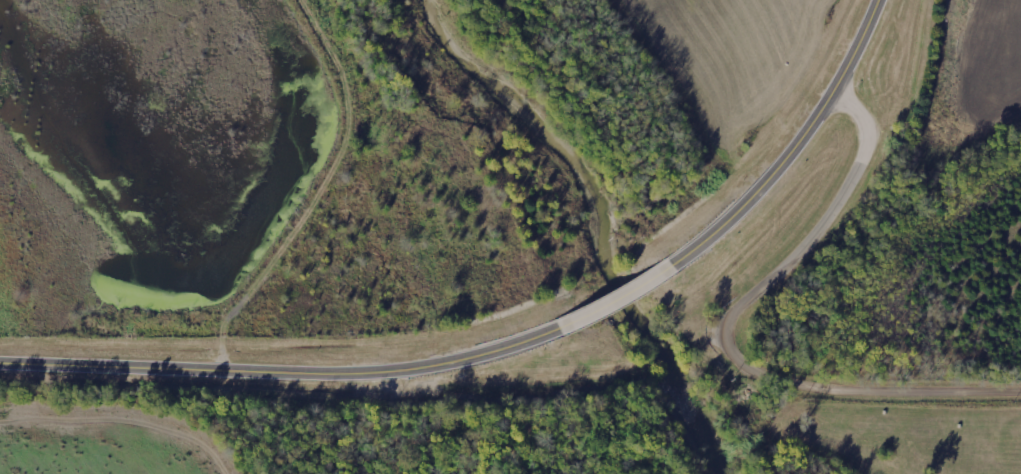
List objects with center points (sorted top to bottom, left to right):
road: (795, 146)
road: (622, 301)
road: (720, 335)
road: (285, 373)

